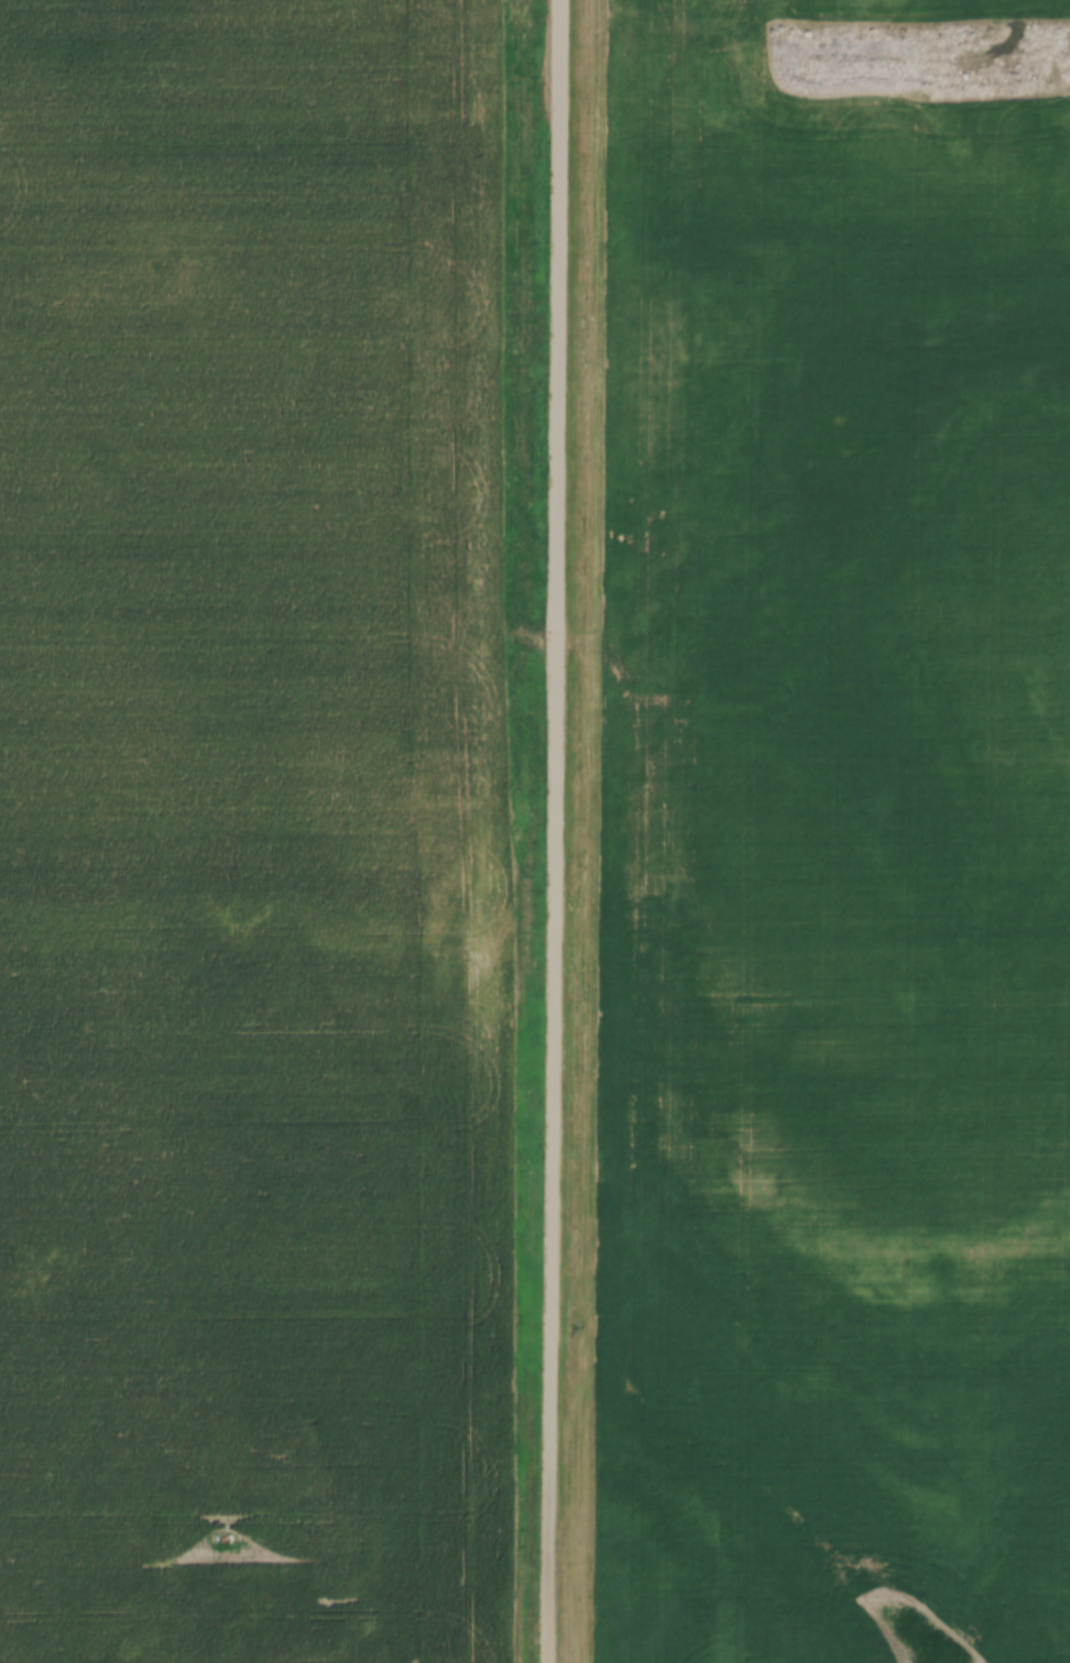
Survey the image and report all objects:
road: (555, 831)

